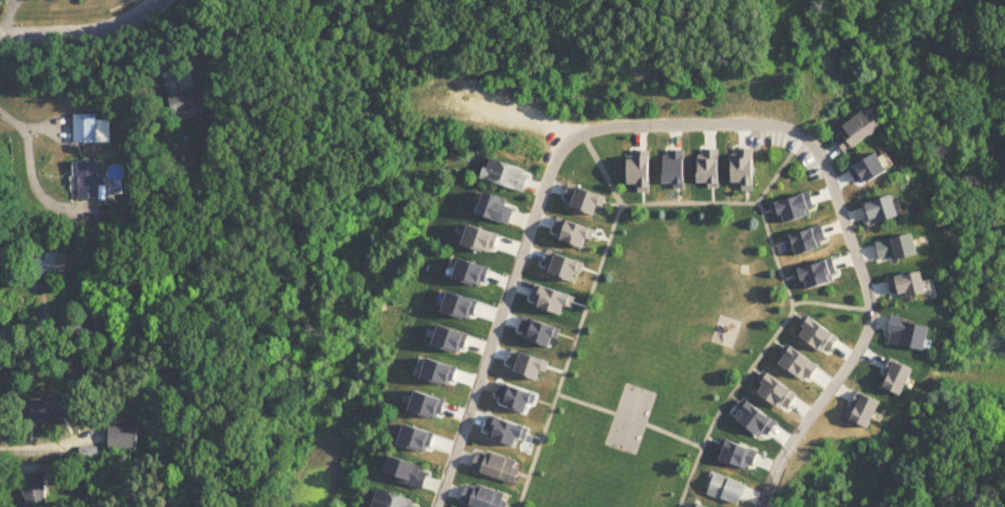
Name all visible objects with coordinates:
road: (83, 32)
building: (178, 98)
road: (691, 119)
building: (88, 129)
building: (851, 133)
road: (31, 168)
building: (500, 176)
building: (83, 179)
building: (877, 212)
building: (892, 250)
building: (39, 260)
building: (902, 287)
building: (70, 323)
building: (40, 409)
building: (117, 437)
road: (48, 442)
building: (83, 453)
building: (495, 466)
building: (404, 473)
building: (721, 488)
building: (29, 489)
building: (478, 497)
building: (388, 500)

